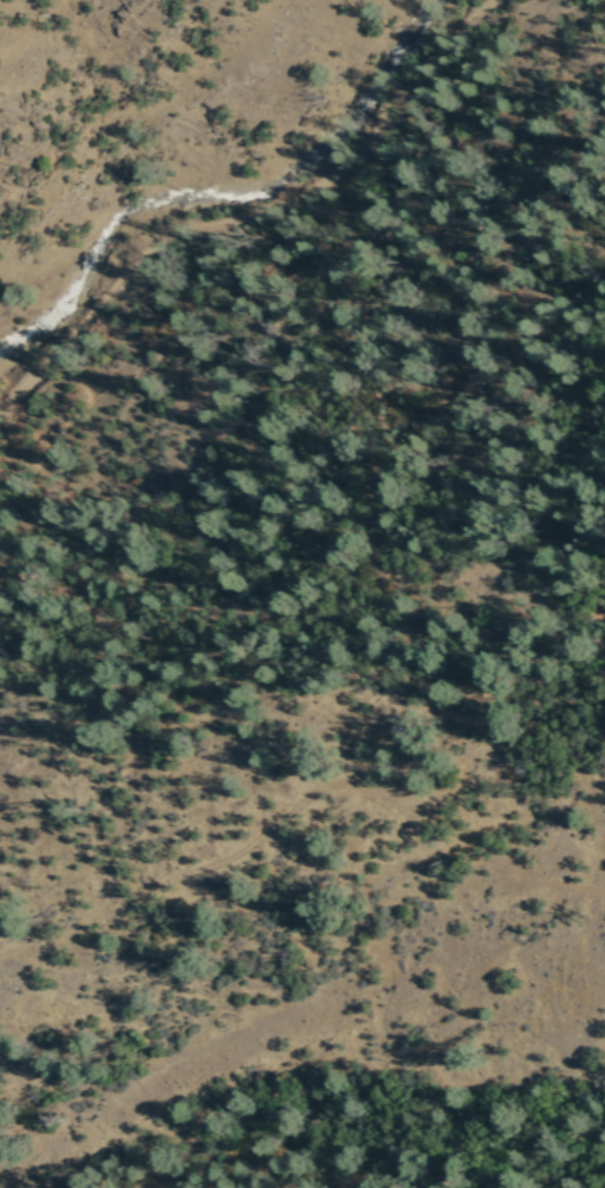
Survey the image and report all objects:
road: (294, 182)

